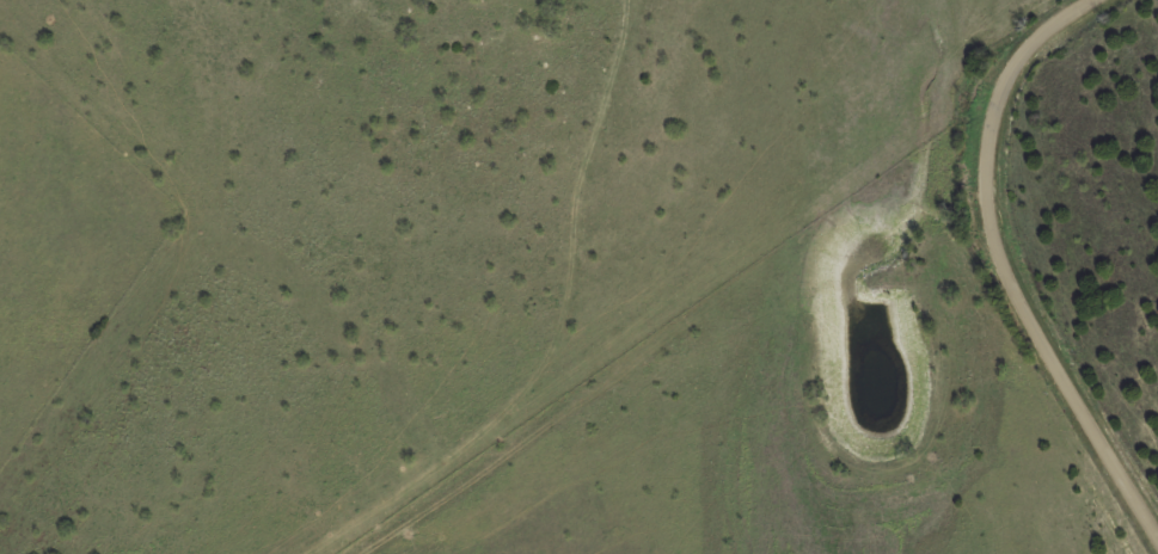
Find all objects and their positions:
road: (994, 265)

